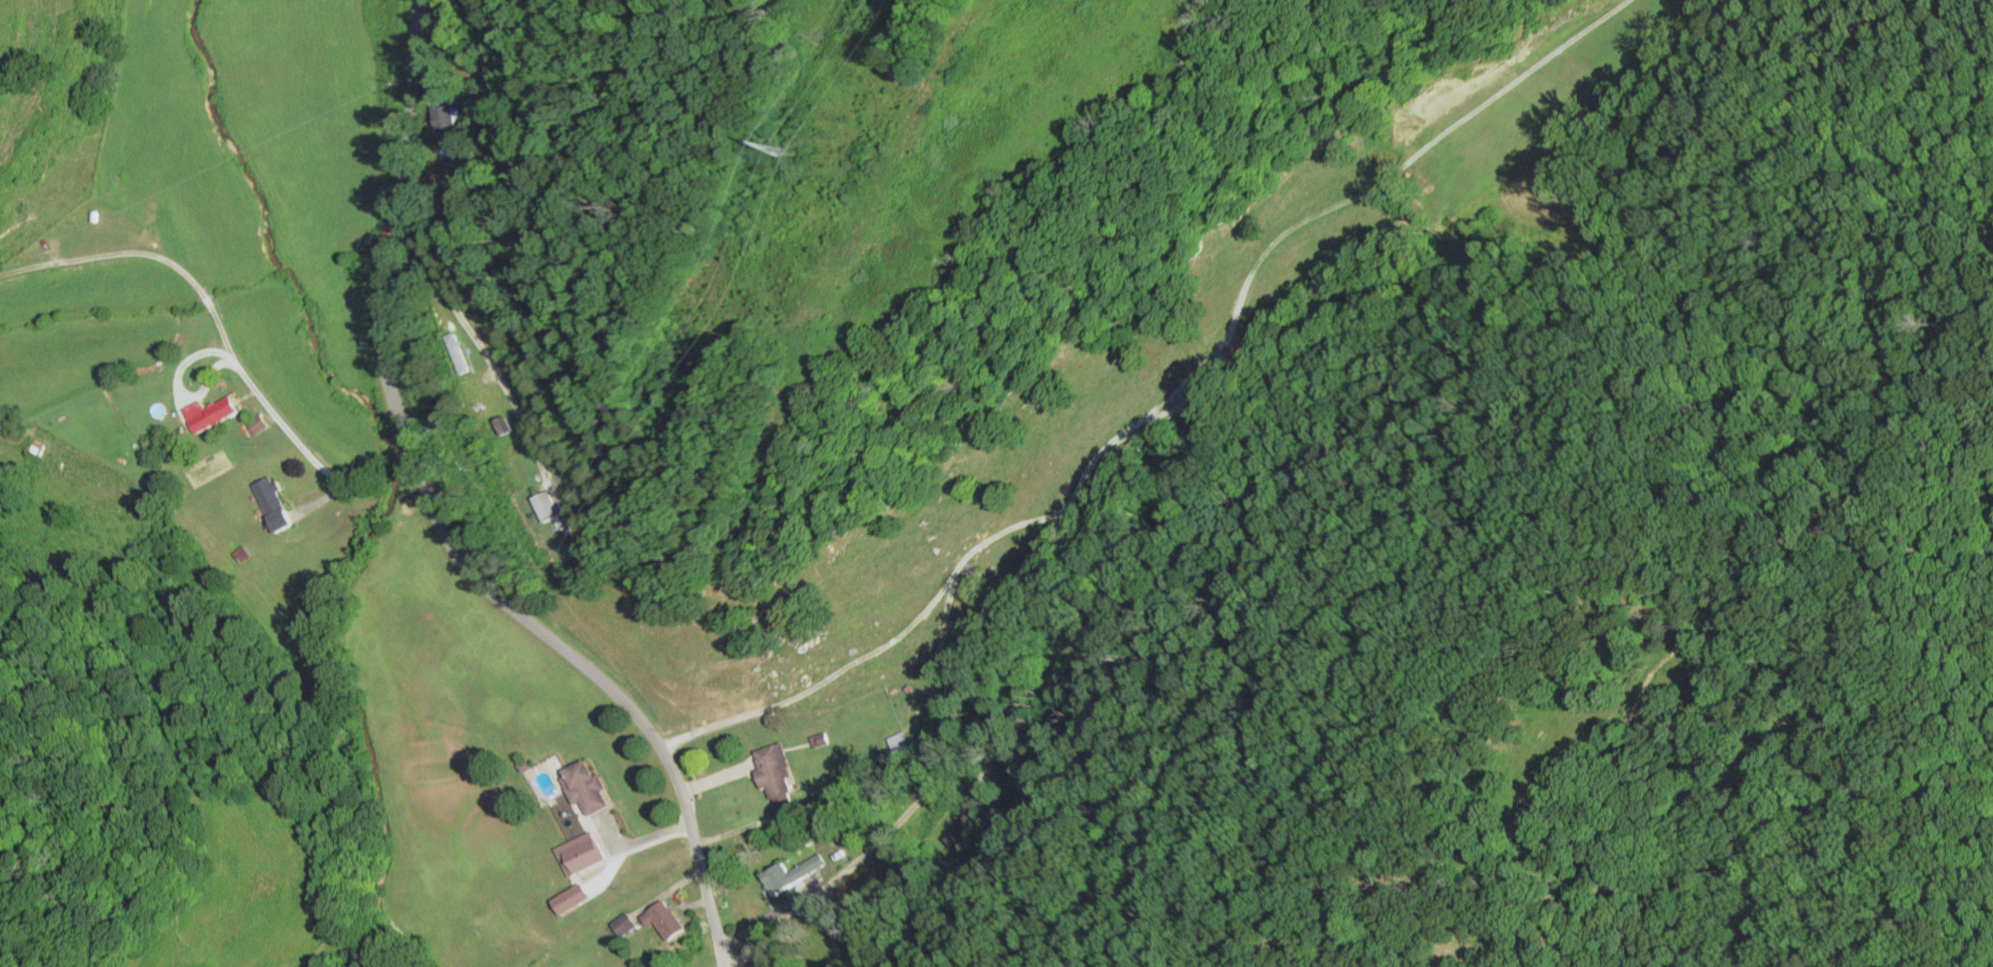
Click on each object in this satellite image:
road: (660, 71)
building: (446, 124)
building: (94, 236)
building: (34, 257)
road: (229, 335)
building: (1217, 374)
building: (221, 413)
building: (261, 423)
building: (39, 447)
building: (278, 505)
building: (550, 506)
road: (444, 528)
building: (900, 745)
building: (778, 771)
building: (590, 787)
building: (790, 877)
building: (670, 920)
building: (629, 924)

